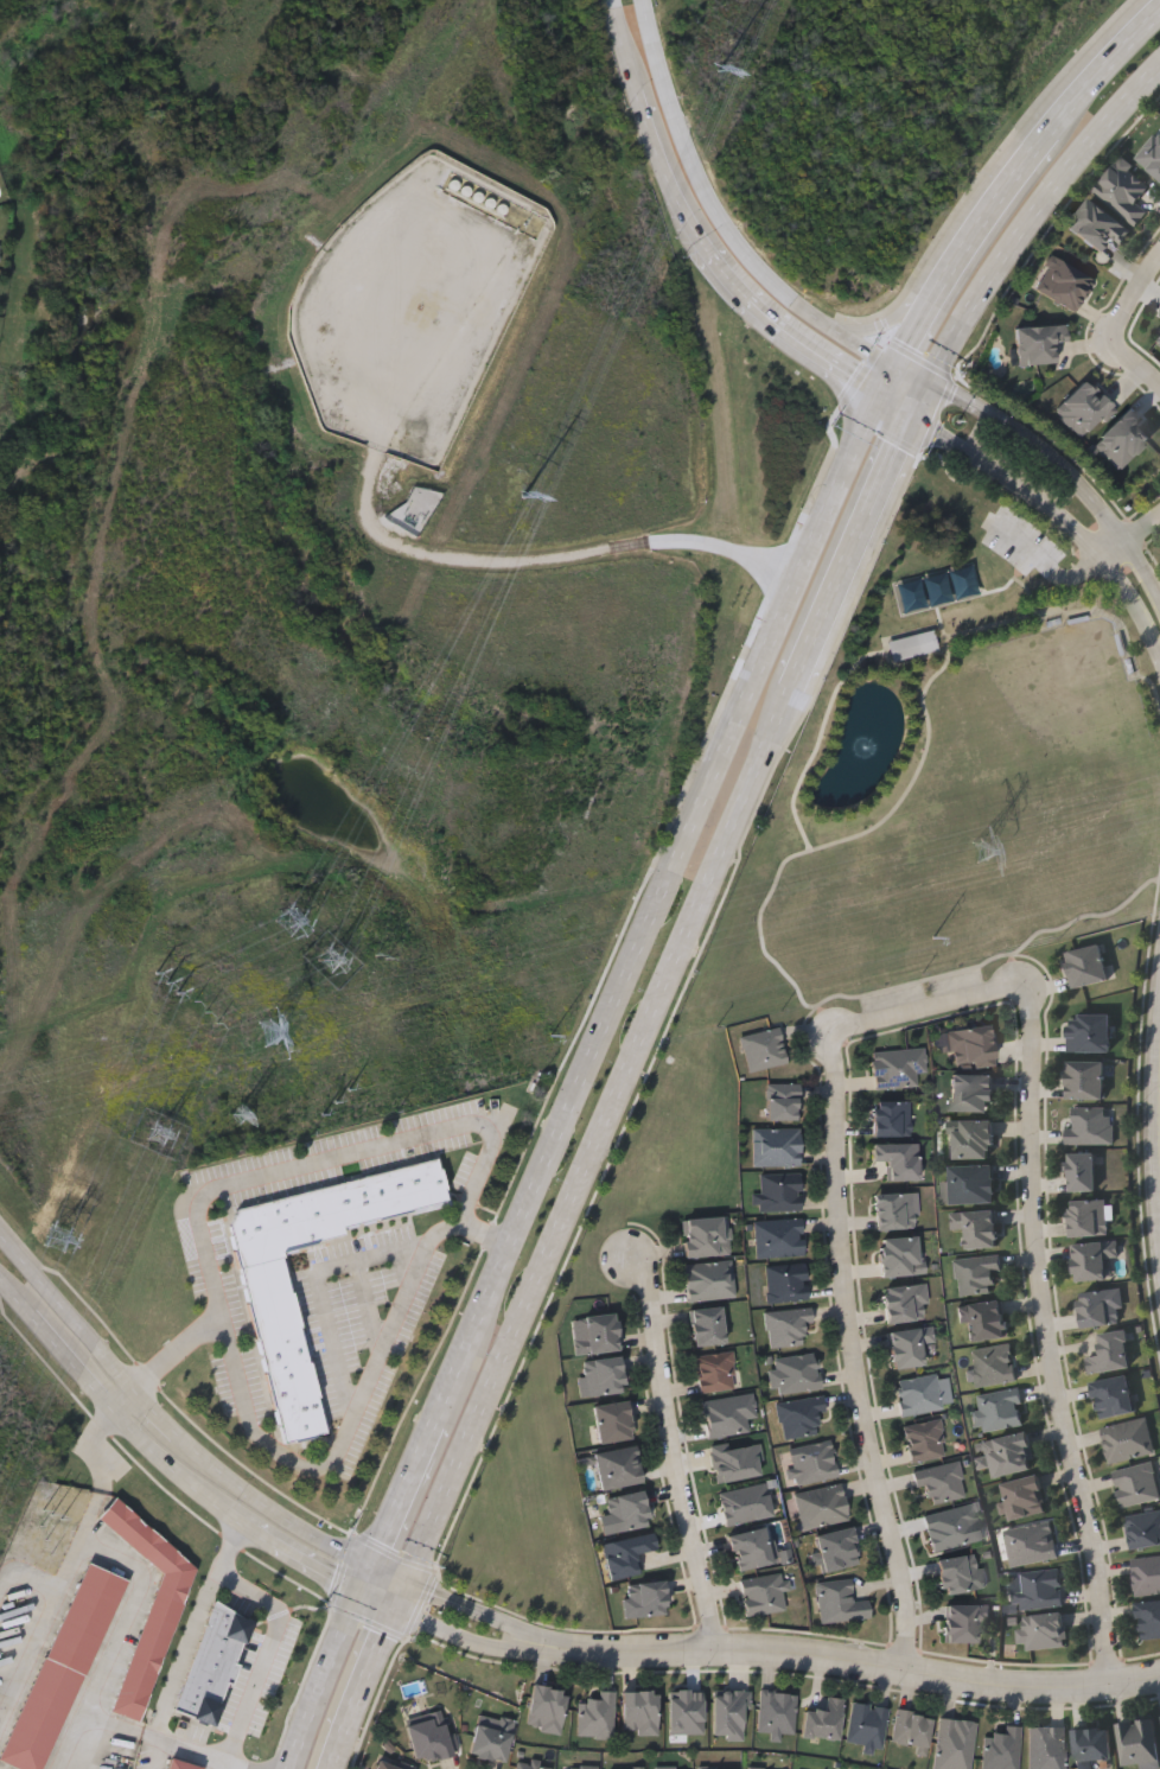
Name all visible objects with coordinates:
park: (126, 28)
power tower: (721, 76)
road: (1092, 85)
road: (667, 178)
road: (701, 182)
building: (1124, 192)
road: (1005, 195)
road: (1032, 212)
building: (1098, 227)
building: (1063, 284)
road: (937, 295)
road: (912, 297)
road: (1134, 297)
building: (1156, 336)
building: (1039, 344)
road: (861, 345)
road: (830, 358)
road: (1135, 362)
traffic signals: (898, 365)
road: (913, 373)
road: (890, 380)
traffic signals: (929, 380)
traffic signals: (882, 394)
road: (920, 397)
road: (897, 405)
traffic signals: (912, 415)
road: (867, 426)
road: (1069, 471)
road: (1009, 479)
power tower: (527, 499)
road: (1130, 536)
road: (852, 552)
road: (423, 558)
road: (1041, 558)
road: (1128, 596)
building: (914, 647)
power tower: (979, 849)
power tower: (297, 920)
road: (637, 950)
power tower: (334, 965)
building: (1086, 965)
power tower: (170, 981)
road: (936, 1007)
power tower: (208, 1012)
building: (1089, 1032)
power tower: (232, 1041)
building: (969, 1045)
building: (763, 1048)
building: (897, 1067)
building: (1085, 1078)
building: (971, 1092)
building: (783, 1101)
building: (891, 1118)
building: (1090, 1125)
power tower: (160, 1132)
road: (600, 1135)
building: (973, 1139)
building: (776, 1146)
road: (329, 1158)
building: (897, 1159)
building: (1083, 1171)
building: (971, 1184)
building: (778, 1191)
building: (896, 1210)
building: (1089, 1217)
building: (977, 1227)
power tower: (59, 1235)
building: (706, 1236)
building: (778, 1236)
building: (899, 1255)
building: (1094, 1259)
building: (975, 1273)
building: (708, 1279)
building: (785, 1281)
building: (905, 1302)
building: (1101, 1307)
road: (66, 1312)
building: (986, 1319)
building: (707, 1325)
building: (786, 1325)
building: (595, 1332)
building: (281, 1343)
building: (909, 1344)
road: (1046, 1347)
building: (1109, 1353)
road: (854, 1354)
building: (993, 1364)
building: (714, 1372)
building: (795, 1373)
building: (604, 1375)
building: (917, 1394)
building: (1114, 1396)
road: (127, 1400)
building: (998, 1410)
road: (155, 1413)
building: (727, 1414)
building: (799, 1417)
building: (612, 1421)
building: (1128, 1439)
building: (924, 1440)
road: (671, 1451)
road: (345, 1455)
building: (1009, 1455)
road: (165, 1456)
building: (812, 1462)
building: (617, 1466)
building: (941, 1483)
building: (1137, 1483)
building: (1024, 1497)
road: (401, 1506)
building: (821, 1506)
power tower: (52, 1508)
road: (270, 1508)
building: (626, 1512)
building: (955, 1526)
road: (82, 1529)
building: (1143, 1529)
building: (1032, 1544)
building: (751, 1548)
building: (836, 1548)
building: (625, 1554)
traffic signals: (375, 1567)
building: (960, 1572)
road: (391, 1574)
building: (1147, 1574)
road: (368, 1580)
traffic signals: (408, 1583)
building: (1040, 1589)
building: (763, 1592)
traffic signals: (361, 1593)
road: (402, 1595)
road: (378, 1599)
building: (644, 1599)
building: (840, 1601)
traffic signals: (396, 1606)
road: (491, 1615)
building: (1149, 1620)
building: (963, 1621)
building: (1043, 1630)
building: (152, 1634)
road: (269, 1634)
road: (117, 1640)
road: (482, 1642)
road: (24, 1646)
building: (211, 1663)
road: (868, 1663)
road: (371, 1665)
building: (60, 1667)
road: (324, 1680)
road: (171, 1685)
building: (546, 1708)
building: (639, 1712)
building: (776, 1712)
building: (595, 1716)
building: (823, 1720)
building: (866, 1724)
building: (911, 1729)
building: (428, 1738)
building: (491, 1738)
building: (1139, 1742)
building: (954, 1743)
road: (338, 1745)
building: (1092, 1746)
building: (1046, 1748)
building: (1002, 1749)
road: (153, 1754)
building: (181, 1764)
building: (384, 1764)
building: (529, 1765)
road: (224, 1768)
building: (576, 1768)
building: (624, 1768)
building: (673, 1768)

